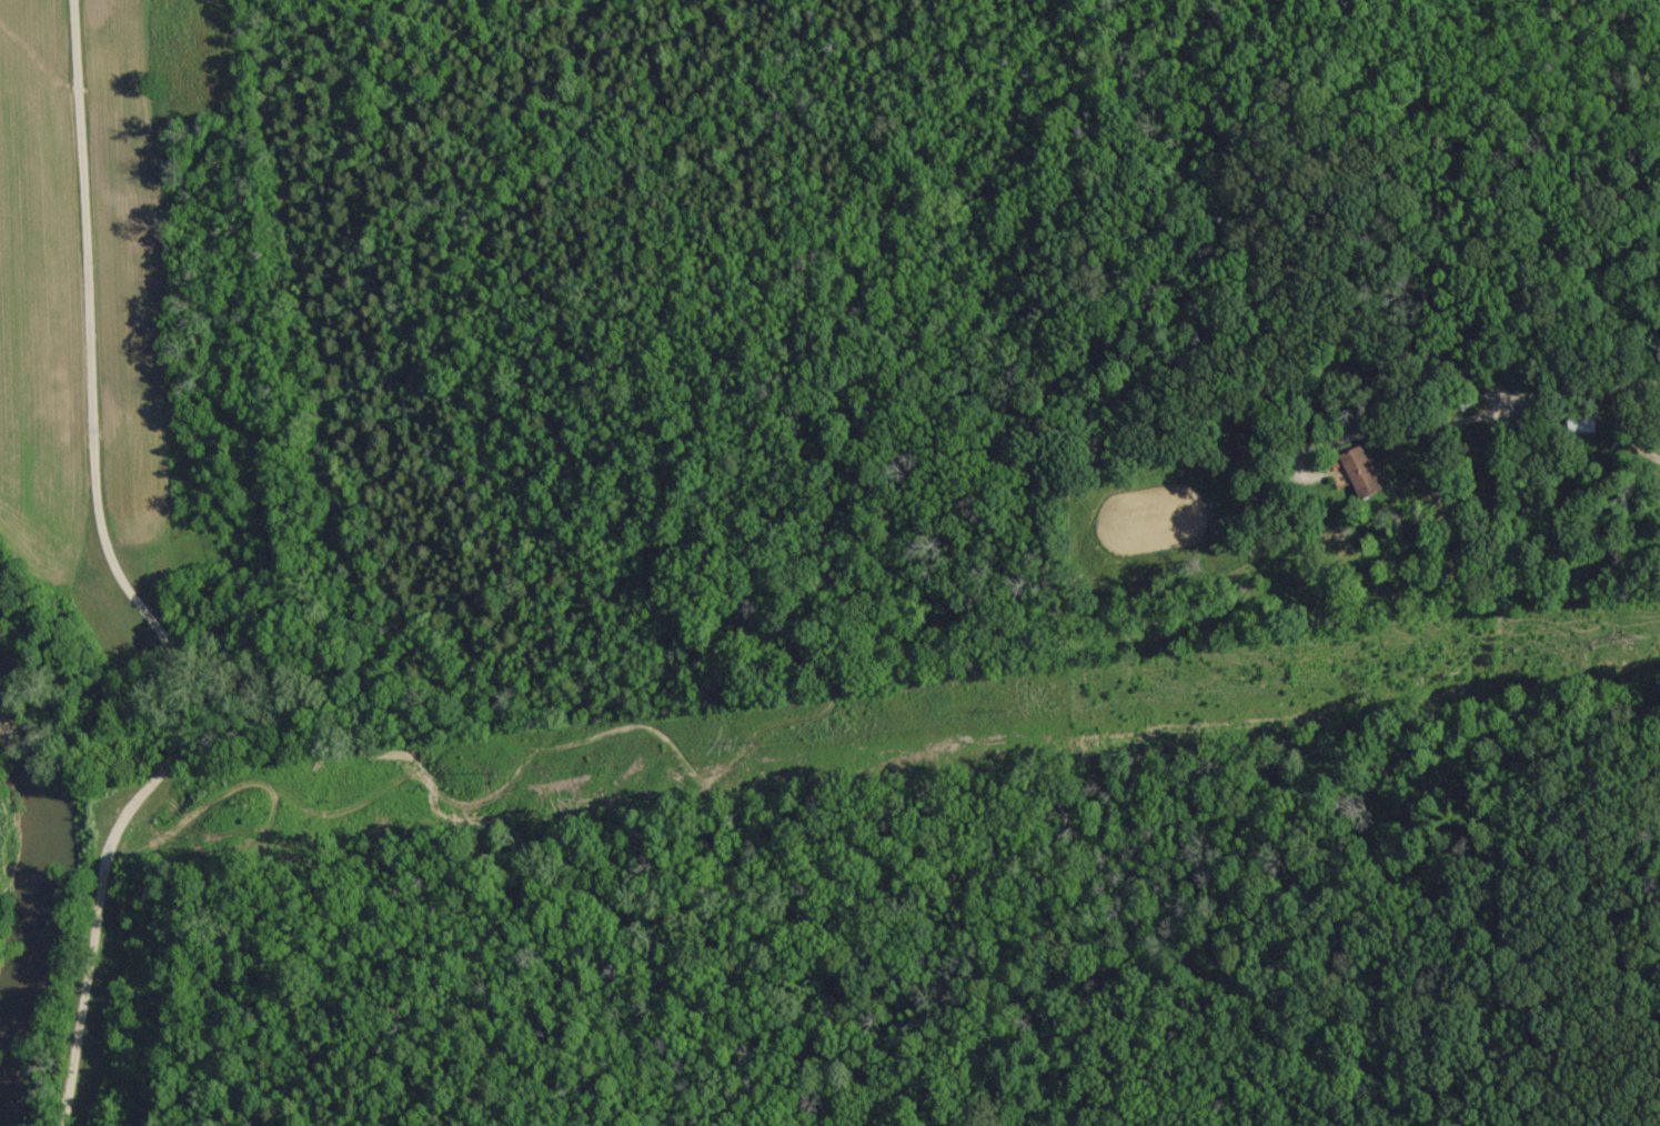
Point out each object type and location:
road: (1581, 389)
building: (1355, 469)

